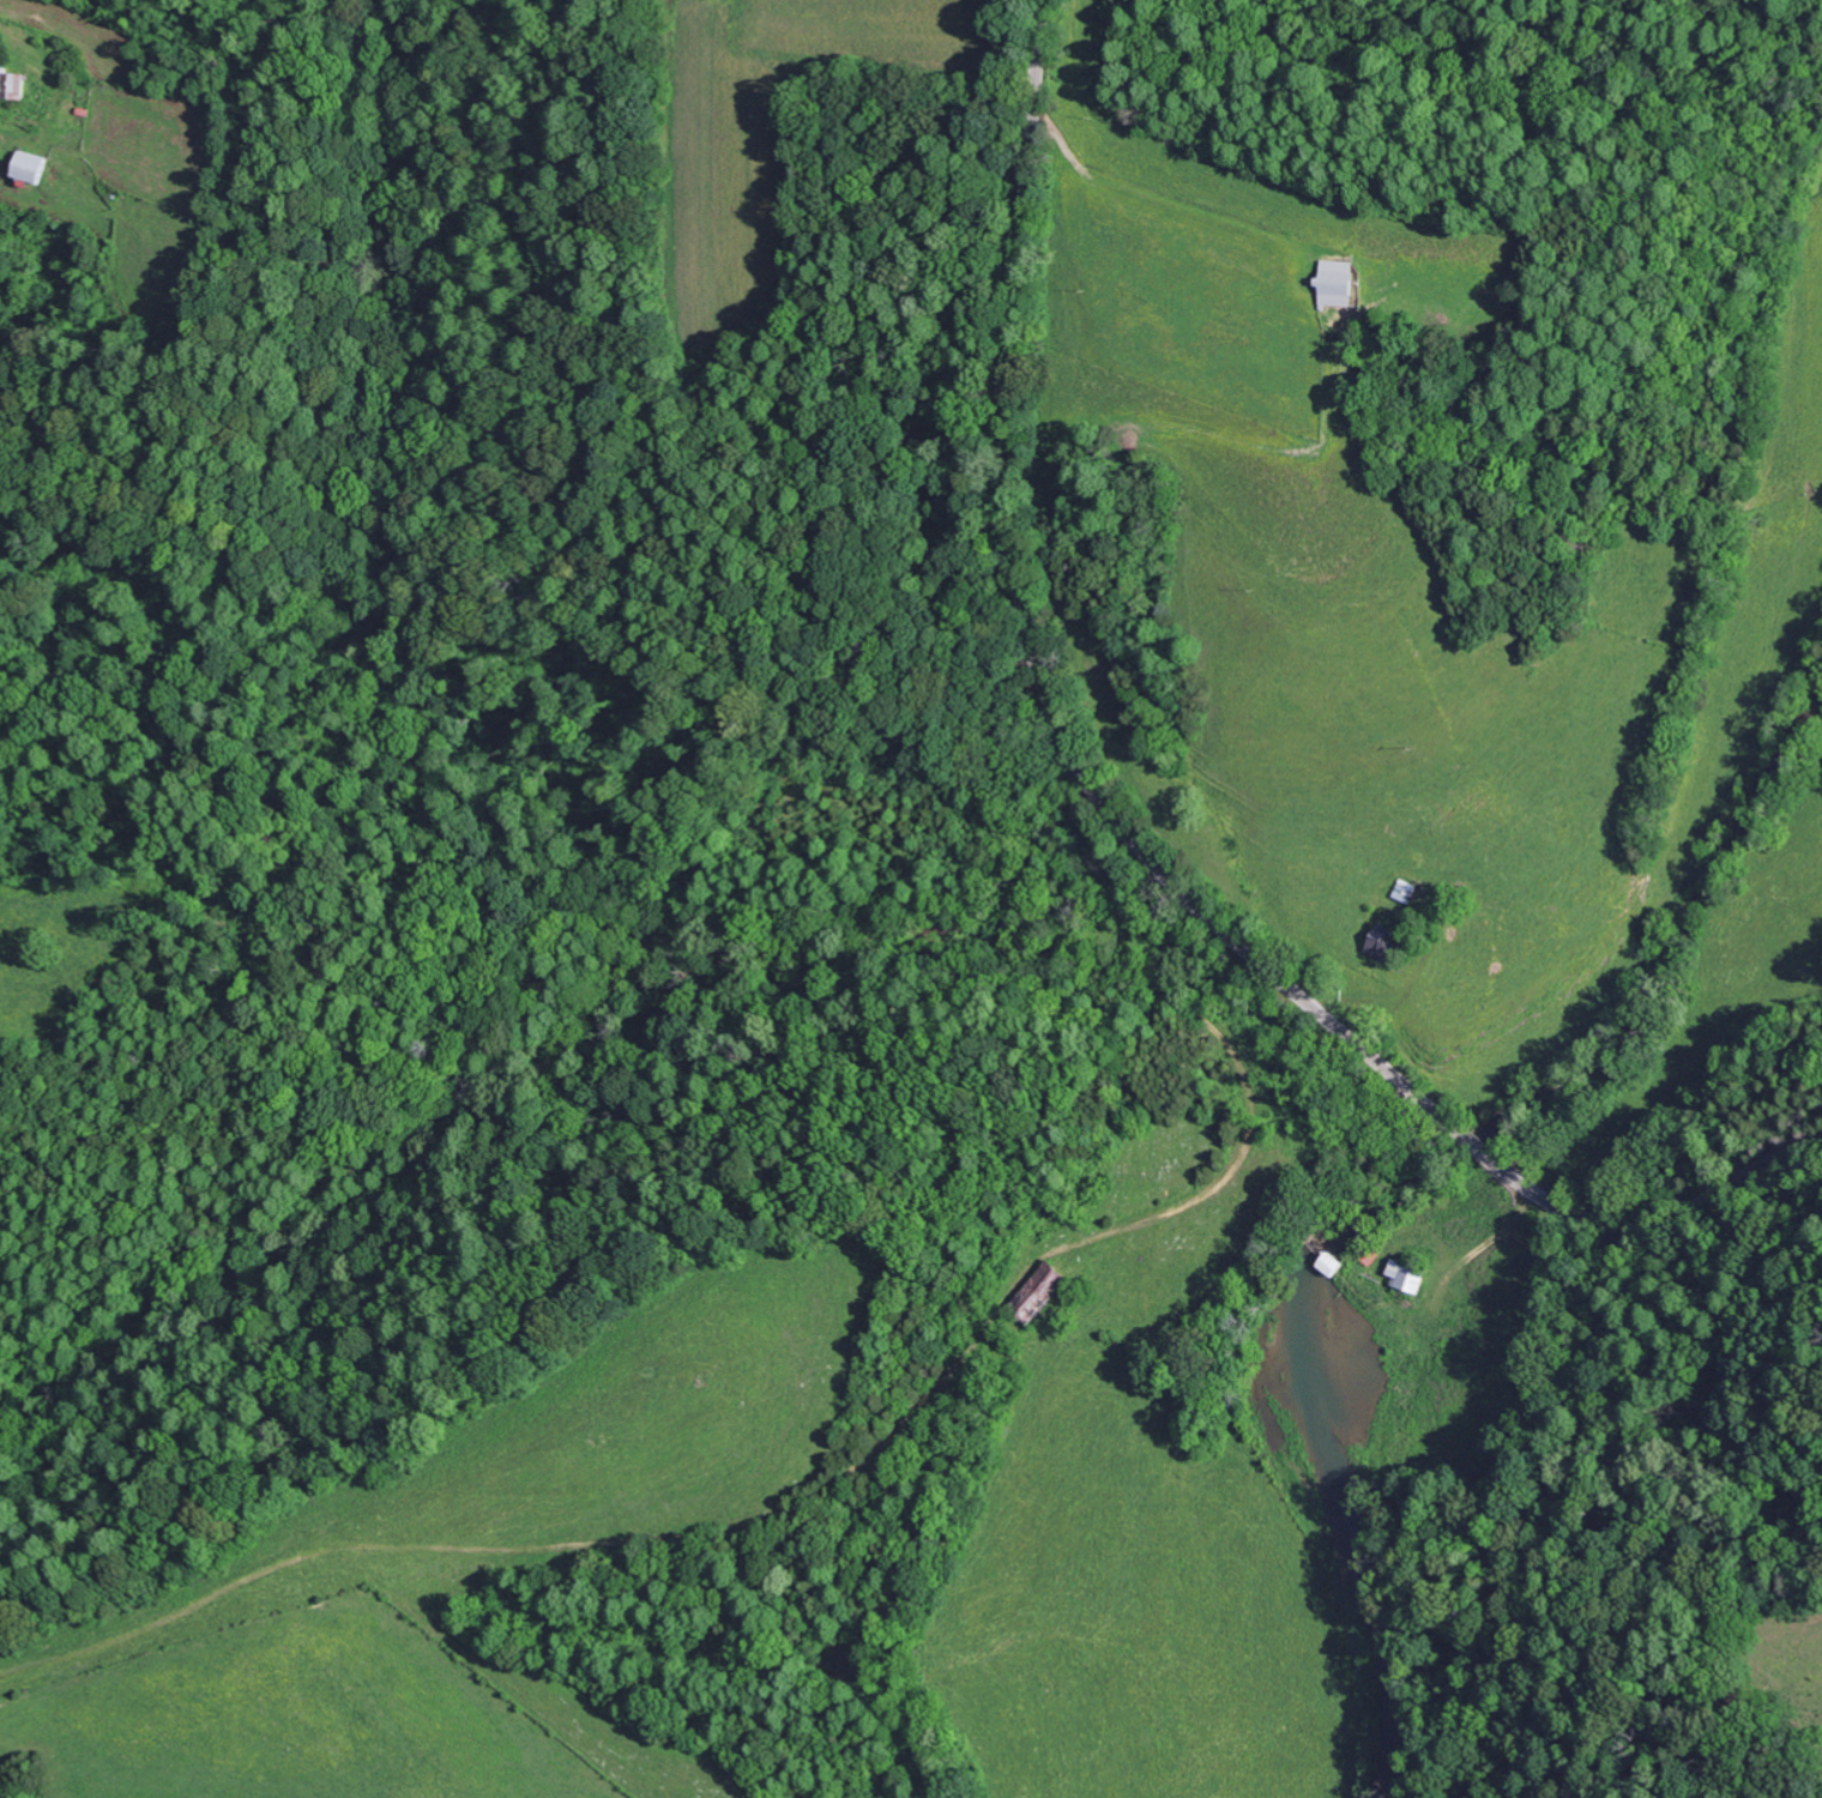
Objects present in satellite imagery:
building: (36, 167)
building: (1341, 283)
road: (1121, 841)

